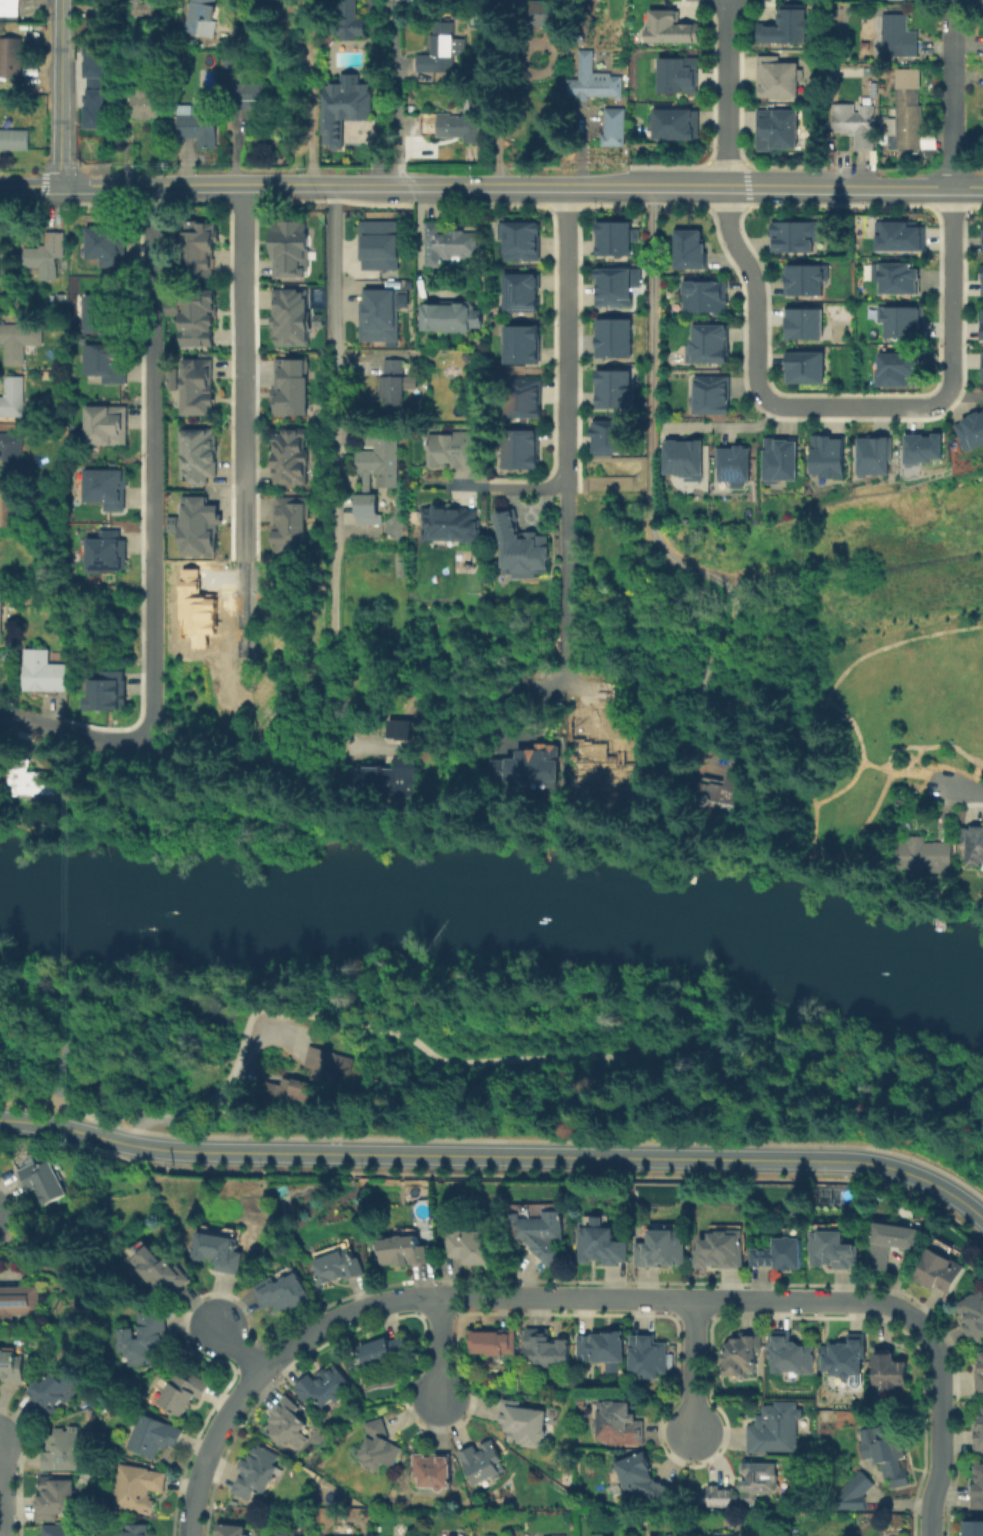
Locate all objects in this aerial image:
building: (902, 0)
building: (267, 3)
building: (513, 3)
building: (10, 8)
building: (144, 11)
building: (105, 14)
building: (549, 15)
building: (200, 18)
building: (347, 20)
building: (788, 26)
building: (670, 27)
building: (900, 38)
building: (442, 52)
building: (546, 57)
building: (12, 60)
road: (374, 64)
building: (678, 76)
building: (779, 79)
building: (594, 83)
building: (94, 84)
road: (312, 86)
road: (62, 93)
road: (728, 93)
road: (952, 94)
building: (247, 96)
building: (146, 106)
building: (345, 110)
road: (397, 112)
building: (909, 117)
building: (677, 125)
building: (855, 125)
building: (200, 127)
building: (451, 130)
building: (614, 130)
building: (779, 131)
building: (15, 142)
road: (378, 156)
road: (389, 185)
road: (106, 186)
road: (31, 187)
road: (727, 187)
road: (905, 188)
building: (793, 235)
building: (897, 236)
building: (981, 237)
building: (611, 238)
building: (521, 241)
building: (376, 244)
building: (107, 245)
building: (449, 245)
building: (287, 247)
building: (687, 248)
road: (419, 251)
building: (198, 252)
building: (0, 255)
building: (47, 257)
building: (894, 278)
building: (805, 280)
building: (982, 280)
building: (614, 287)
building: (521, 292)
building: (703, 296)
building: (105, 313)
building: (378, 314)
building: (195, 316)
building: (288, 316)
building: (451, 318)
building: (905, 323)
building: (982, 324)
building: (806, 325)
building: (614, 338)
building: (14, 344)
building: (519, 345)
building: (708, 345)
building: (106, 362)
building: (981, 367)
building: (805, 368)
building: (901, 370)
road: (568, 371)
road: (244, 372)
building: (196, 388)
building: (288, 388)
building: (395, 388)
building: (613, 390)
building: (713, 395)
building: (13, 397)
road: (965, 397)
building: (521, 398)
road: (850, 406)
road: (335, 411)
building: (106, 425)
road: (726, 425)
building: (971, 431)
building: (607, 437)
building: (920, 448)
building: (521, 450)
building: (454, 451)
building: (12, 453)
building: (876, 456)
building: (381, 457)
building: (201, 458)
building: (290, 458)
building: (781, 459)
building: (685, 460)
building: (828, 460)
building: (735, 467)
road: (464, 487)
building: (104, 488)
road: (652, 494)
road: (153, 503)
building: (7, 506)
building: (367, 508)
building: (290, 524)
building: (447, 524)
building: (194, 525)
road: (358, 532)
building: (520, 549)
building: (105, 552)
building: (197, 611)
building: (1, 618)
road: (567, 640)
building: (44, 673)
building: (105, 691)
park: (889, 691)
road: (33, 723)
building: (409, 755)
building: (1, 760)
building: (530, 765)
building: (36, 785)
building: (729, 790)
road: (963, 790)
building: (973, 846)
building: (924, 857)
river: (495, 899)
road: (161, 988)
road: (86, 994)
road: (400, 1032)
park: (35, 1037)
parking lot: (283, 1039)
park: (523, 1061)
building: (303, 1081)
road: (27, 1100)
road: (494, 1155)
building: (45, 1183)
road: (981, 1217)
building: (540, 1235)
building: (601, 1246)
building: (892, 1246)
building: (470, 1247)
building: (664, 1248)
building: (722, 1249)
building: (834, 1251)
building: (223, 1252)
building: (407, 1252)
building: (781, 1253)
building: (339, 1267)
building: (159, 1269)
road: (10, 1273)
building: (940, 1273)
building: (283, 1294)
road: (497, 1297)
building: (18, 1299)
building: (972, 1318)
building: (145, 1341)
building: (493, 1344)
road: (442, 1348)
road: (240, 1350)
building: (545, 1350)
building: (602, 1351)
building: (385, 1353)
building: (743, 1356)
building: (791, 1356)
building: (846, 1357)
building: (648, 1359)
building: (12, 1366)
road: (694, 1367)
building: (889, 1371)
building: (980, 1376)
building: (324, 1387)
building: (60, 1389)
building: (185, 1394)
building: (285, 1423)
building: (526, 1425)
building: (619, 1426)
building: (776, 1430)
road: (940, 1431)
building: (979, 1436)
building: (153, 1438)
building: (381, 1449)
building: (63, 1451)
building: (889, 1455)
building: (481, 1466)
building: (435, 1471)
building: (258, 1474)
building: (643, 1478)
building: (748, 1487)
building: (977, 1489)
building: (138, 1490)
building: (855, 1491)
building: (57, 1499)
road: (3, 1502)
building: (974, 1522)
building: (139, 1531)
building: (64, 1532)
building: (233, 1532)
building: (288, 1534)

